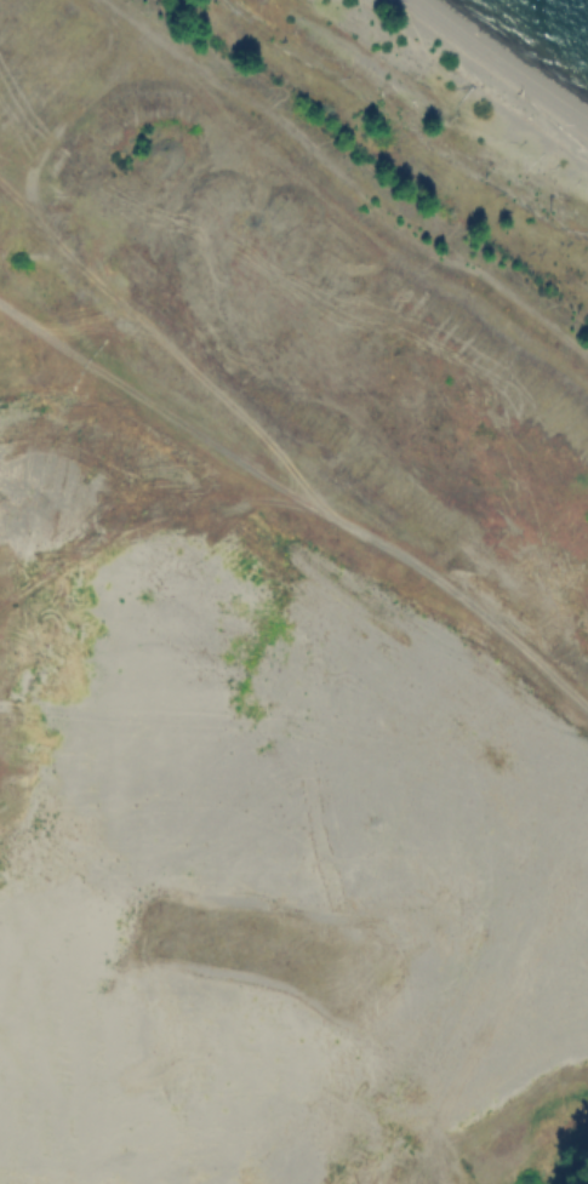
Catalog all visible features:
road: (42, 332)
road: (346, 525)

